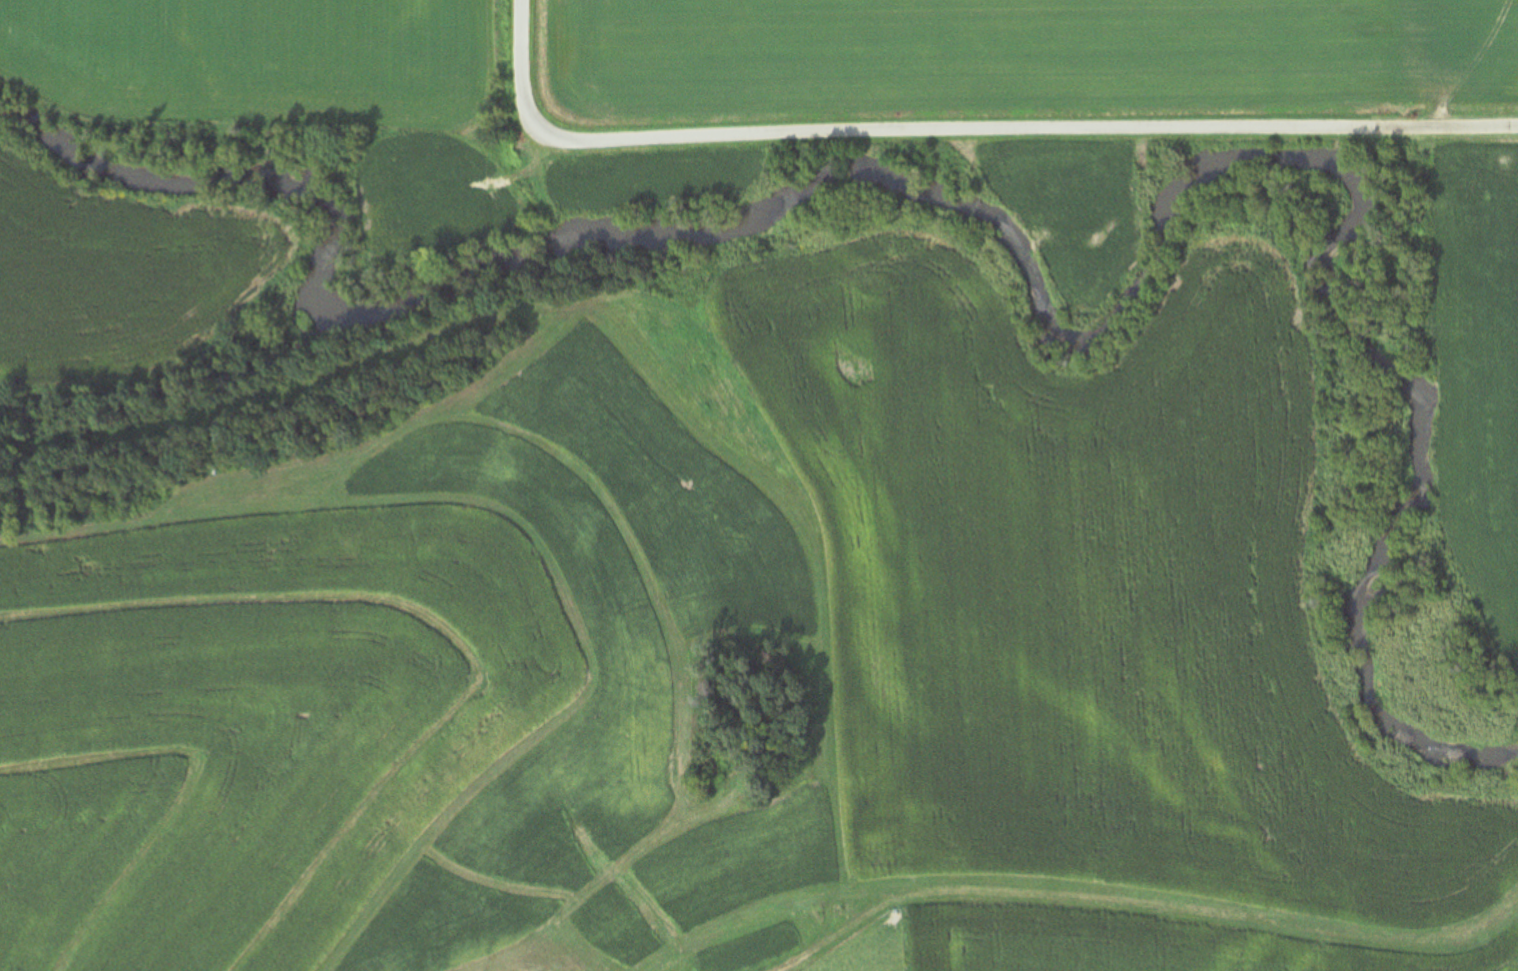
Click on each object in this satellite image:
road: (963, 127)
river: (1094, 305)

